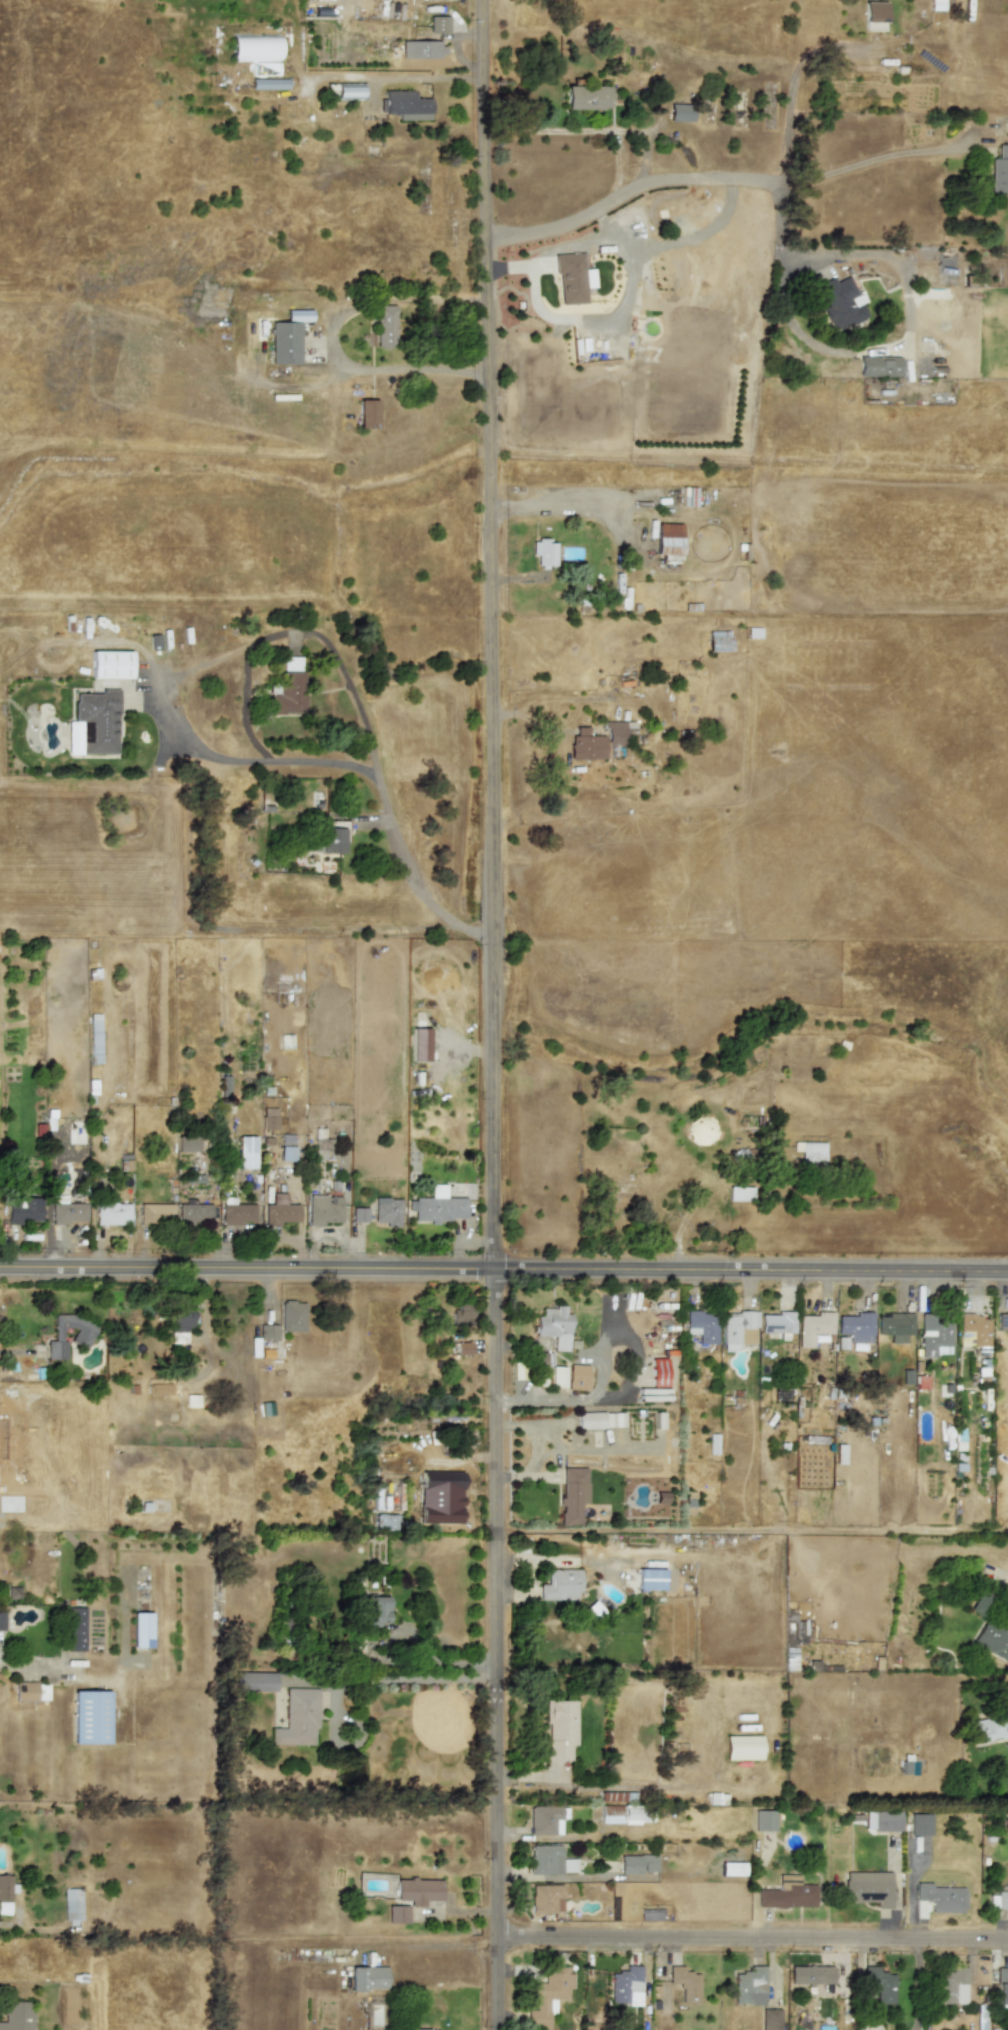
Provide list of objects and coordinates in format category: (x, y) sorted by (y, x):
building: (873, 16)
building: (438, 24)
building: (255, 48)
building: (421, 49)
road: (417, 78)
building: (269, 84)
road: (793, 89)
building: (348, 91)
building: (585, 97)
building: (406, 105)
building: (680, 112)
building: (1006, 126)
road: (592, 130)
road: (869, 158)
building: (999, 172)
road: (628, 196)
building: (572, 277)
building: (840, 303)
building: (385, 326)
building: (284, 342)
road: (872, 349)
building: (878, 366)
road: (374, 369)
road: (303, 388)
building: (366, 414)
road: (569, 502)
building: (668, 541)
building: (544, 552)
building: (718, 641)
building: (110, 665)
building: (289, 689)
building: (93, 724)
building: (599, 740)
road: (198, 747)
building: (331, 839)
road: (496, 1014)
building: (94, 1036)
building: (269, 1119)
building: (287, 1140)
building: (320, 1140)
building: (186, 1143)
building: (246, 1152)
building: (810, 1153)
building: (286, 1154)
building: (740, 1193)
building: (438, 1206)
building: (324, 1210)
building: (24, 1211)
building: (67, 1211)
building: (280, 1211)
building: (386, 1211)
building: (236, 1212)
building: (112, 1213)
building: (194, 1213)
building: (155, 1214)
building: (359, 1215)
road: (504, 1273)
building: (463, 1315)
building: (292, 1316)
building: (777, 1322)
building: (1003, 1322)
building: (180, 1323)
building: (702, 1326)
building: (815, 1326)
building: (857, 1326)
building: (895, 1326)
building: (555, 1327)
building: (976, 1328)
building: (738, 1330)
building: (934, 1334)
building: (82, 1336)
building: (267, 1340)
building: (464, 1349)
road: (16, 1350)
building: (659, 1373)
building: (558, 1377)
building: (578, 1378)
building: (921, 1382)
building: (159, 1389)
building: (595, 1420)
building: (839, 1454)
building: (572, 1495)
building: (441, 1497)
building: (387, 1521)
building: (650, 1579)
building: (561, 1585)
building: (377, 1610)
building: (1, 1621)
building: (75, 1629)
building: (141, 1630)
building: (993, 1640)
road: (37, 1670)
road: (397, 1679)
building: (254, 1682)
building: (30, 1692)
building: (90, 1717)
building: (298, 1718)
building: (991, 1727)
building: (560, 1730)
building: (743, 1747)
building: (909, 1766)
building: (627, 1814)
building: (546, 1820)
building: (764, 1821)
building: (886, 1821)
building: (920, 1824)
building: (546, 1859)
building: (638, 1864)
building: (732, 1869)
building: (5, 1887)
building: (868, 1888)
building: (417, 1891)
building: (787, 1894)
building: (546, 1898)
building: (941, 1898)
building: (998, 1901)
building: (72, 1904)
building: (398, 1915)
road: (752, 1939)
road: (431, 1945)
building: (810, 1975)
building: (367, 1978)
building: (685, 1984)
building: (879, 1984)
building: (625, 1986)
building: (749, 1986)
building: (950, 1986)
building: (1001, 1986)
building: (547, 1997)
building: (16, 2015)
building: (770, 2019)
building: (420, 2029)

